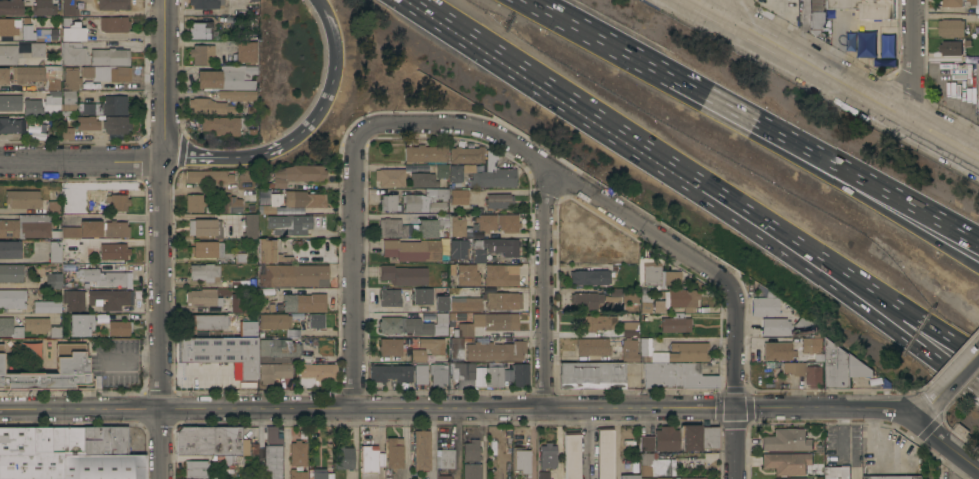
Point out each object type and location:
building: (973, 2)
building: (205, 3)
building: (951, 3)
building: (113, 4)
building: (71, 6)
building: (11, 7)
building: (864, 7)
building: (44, 8)
road: (735, 11)
road: (947, 14)
building: (815, 16)
building: (113, 23)
building: (951, 28)
building: (71, 29)
road: (332, 29)
building: (25, 30)
building: (202, 30)
road: (588, 30)
building: (866, 44)
building: (887, 46)
building: (950, 48)
building: (37, 49)
building: (73, 53)
building: (240, 53)
building: (13, 54)
building: (202, 54)
building: (110, 55)
road: (915, 60)
building: (107, 73)
building: (3, 75)
building: (39, 75)
building: (227, 77)
road: (835, 77)
road: (166, 78)
building: (74, 79)
building: (977, 85)
building: (233, 94)
building: (53, 97)
building: (68, 101)
building: (10, 102)
building: (115, 104)
building: (210, 106)
building: (32, 107)
building: (86, 108)
road: (579, 108)
building: (87, 122)
building: (13, 124)
building: (221, 125)
building: (116, 126)
building: (37, 132)
building: (66, 132)
road: (275, 148)
road: (812, 148)
building: (426, 153)
building: (465, 154)
road: (83, 160)
road: (811, 165)
road: (354, 170)
building: (442, 170)
building: (484, 173)
building: (298, 174)
building: (208, 176)
building: (390, 176)
building: (423, 179)
building: (250, 191)
building: (459, 196)
building: (22, 198)
building: (426, 200)
building: (499, 200)
building: (118, 202)
building: (194, 202)
building: (292, 202)
building: (389, 202)
building: (230, 203)
building: (54, 206)
building: (485, 222)
building: (508, 222)
building: (28, 226)
building: (208, 226)
building: (252, 226)
building: (456, 226)
building: (394, 227)
building: (431, 227)
building: (287, 228)
building: (116, 229)
building: (79, 234)
road: (523, 234)
building: (502, 246)
building: (10, 249)
building: (207, 249)
building: (412, 249)
building: (55, 250)
building: (114, 251)
building: (273, 252)
building: (465, 252)
road: (690, 255)
road: (814, 264)
building: (204, 271)
building: (11, 273)
building: (651, 273)
building: (467, 274)
building: (501, 274)
building: (293, 275)
building: (404, 275)
building: (104, 276)
building: (589, 277)
road: (851, 279)
building: (53, 280)
road: (544, 286)
building: (622, 295)
building: (422, 296)
building: (203, 297)
building: (390, 297)
building: (12, 298)
building: (74, 299)
building: (110, 299)
building: (683, 299)
building: (503, 300)
building: (585, 300)
building: (238, 302)
building: (304, 302)
building: (645, 302)
building: (441, 303)
building: (465, 304)
building: (47, 306)
building: (762, 306)
road: (163, 317)
building: (212, 321)
building: (272, 321)
building: (314, 321)
building: (598, 322)
building: (482, 323)
building: (675, 323)
building: (36, 324)
building: (81, 324)
building: (414, 325)
building: (803, 325)
building: (774, 326)
building: (119, 327)
building: (10, 328)
building: (630, 328)
building: (248, 329)
building: (55, 331)
road: (911, 337)
building: (817, 344)
building: (432, 345)
building: (593, 346)
building: (390, 347)
building: (279, 348)
building: (457, 349)
building: (629, 350)
building: (777, 350)
road: (967, 350)
building: (495, 351)
building: (222, 352)
building: (675, 352)
building: (417, 355)
building: (843, 366)
building: (786, 367)
building: (462, 370)
building: (273, 371)
building: (316, 373)
building: (391, 373)
building: (520, 373)
building: (51, 374)
building: (421, 374)
building: (438, 374)
building: (591, 375)
building: (676, 375)
building: (814, 375)
building: (494, 376)
road: (960, 376)
road: (956, 378)
road: (368, 406)
road: (828, 407)
road: (925, 411)
building: (962, 430)
road: (841, 433)
building: (699, 437)
building: (666, 438)
building: (105, 439)
building: (210, 440)
building: (787, 440)
road: (588, 442)
road: (285, 443)
road: (405, 443)
road: (615, 443)
building: (646, 443)
road: (735, 443)
road: (887, 443)
road: (948, 443)
building: (37, 450)
building: (421, 450)
building: (471, 450)
building: (297, 452)
building: (394, 452)
building: (272, 454)
building: (605, 454)
building: (548, 455)
building: (572, 455)
building: (344, 457)
building: (445, 458)
building: (522, 458)
building: (230, 460)
building: (884, 460)
building: (369, 462)
building: (787, 462)
building: (655, 465)
building: (103, 466)
building: (196, 469)
building: (472, 471)
building: (837, 472)
building: (319, 473)
building: (297, 474)
building: (543, 475)
building: (443, 476)
building: (629, 476)
building: (893, 477)
building: (673, 478)
building: (797, 478)

